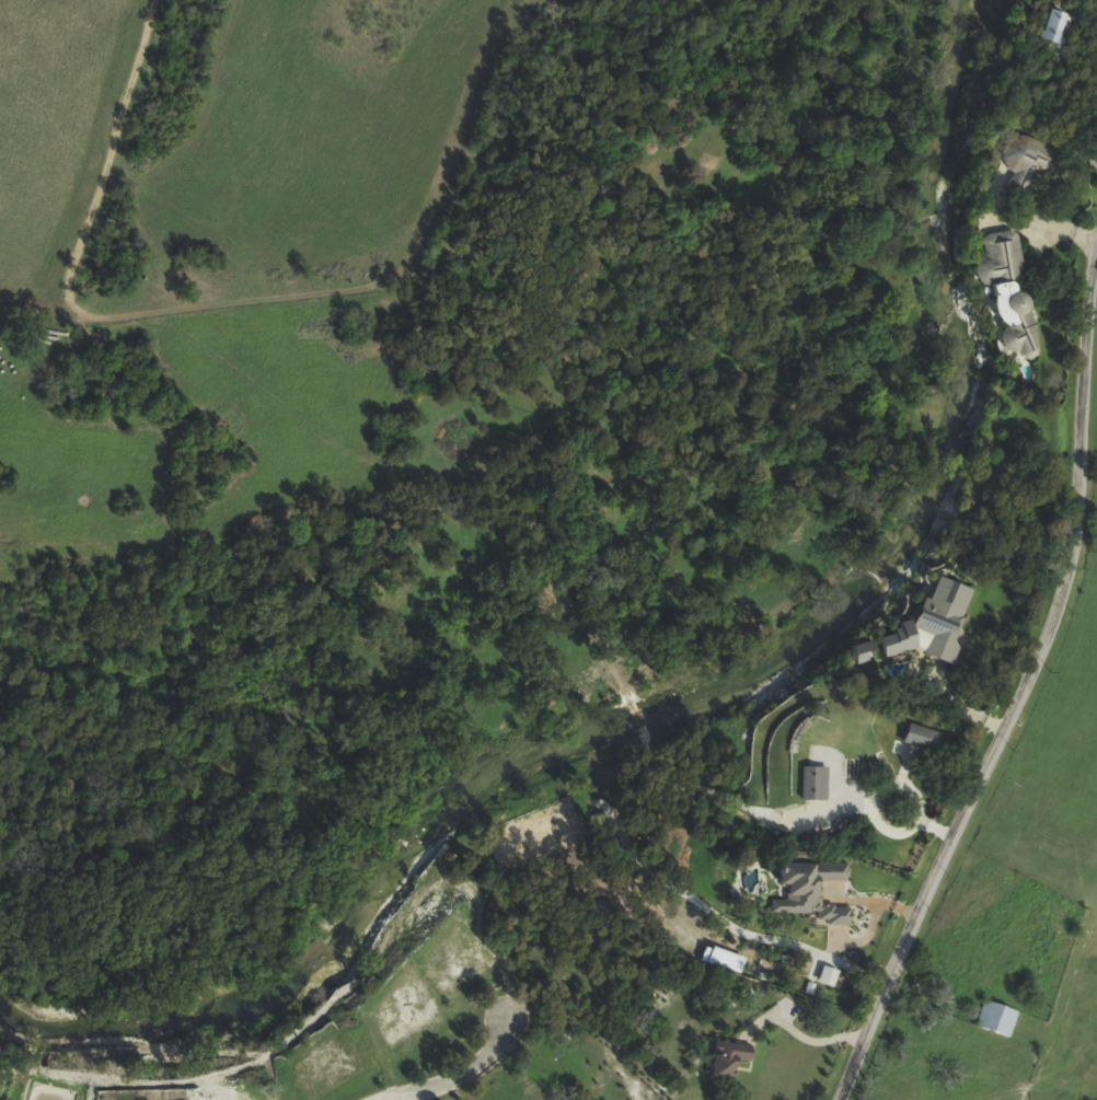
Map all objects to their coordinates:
building: (1032, 160)
building: (1007, 287)
building: (945, 615)
building: (901, 638)
building: (865, 649)
road: (1023, 702)
building: (923, 737)
building: (815, 783)
building: (813, 891)
road: (786, 942)
building: (721, 959)
building: (827, 975)
building: (996, 1018)
road: (799, 1038)
building: (730, 1058)
road: (455, 1075)

